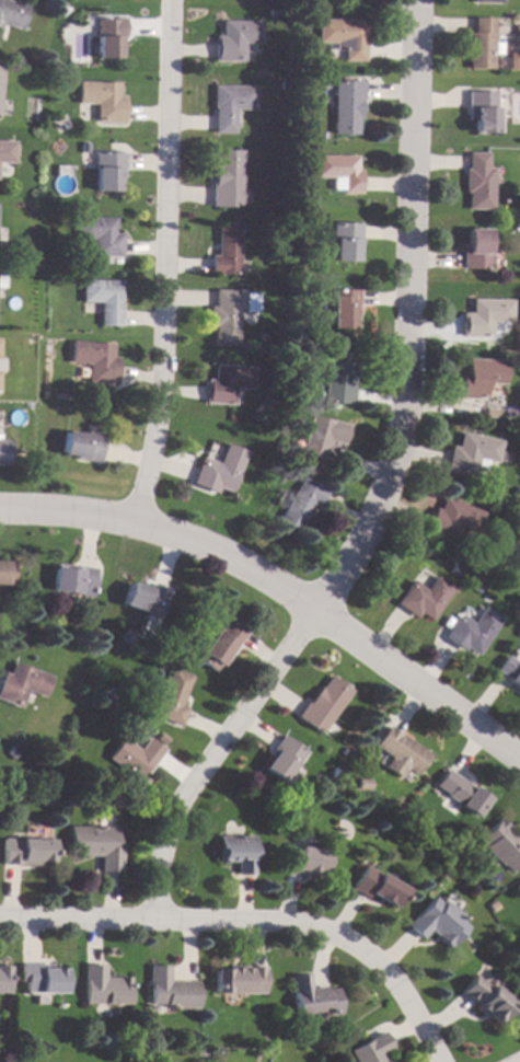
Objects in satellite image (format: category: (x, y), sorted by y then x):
building: (486, 1)
building: (11, 13)
building: (517, 28)
building: (106, 36)
building: (343, 36)
building: (233, 39)
building: (479, 44)
building: (0, 70)
building: (101, 100)
building: (229, 105)
building: (346, 106)
building: (481, 111)
building: (5, 152)
building: (106, 171)
building: (338, 171)
building: (226, 178)
building: (477, 182)
building: (99, 235)
building: (345, 241)
building: (475, 250)
building: (224, 251)
road: (159, 263)
building: (103, 299)
building: (342, 308)
building: (228, 313)
building: (485, 315)
building: (262, 337)
building: (94, 360)
building: (519, 369)
building: (338, 377)
building: (482, 377)
building: (226, 383)
building: (20, 414)
building: (321, 436)
building: (82, 445)
building: (3, 452)
building: (473, 453)
building: (219, 470)
building: (288, 475)
road: (379, 490)
building: (517, 492)
building: (300, 504)
building: (452, 519)
building: (518, 526)
building: (5, 572)
building: (72, 579)
building: (478, 587)
road: (282, 591)
building: (143, 598)
building: (423, 598)
building: (472, 631)
building: (519, 632)
building: (219, 645)
building: (510, 671)
building: (21, 683)
building: (172, 697)
building: (321, 704)
building: (401, 751)
building: (135, 757)
building: (280, 758)
building: (335, 773)
building: (361, 784)
building: (460, 793)
building: (72, 800)
building: (47, 801)
building: (502, 843)
building: (95, 845)
building: (24, 850)
building: (235, 852)
building: (303, 862)
building: (375, 886)
building: (519, 888)
road: (253, 921)
building: (436, 922)
building: (2, 979)
building: (41, 979)
building: (239, 979)
building: (103, 986)
building: (170, 990)
building: (313, 997)
building: (483, 998)
building: (332, 1048)
building: (371, 1049)

